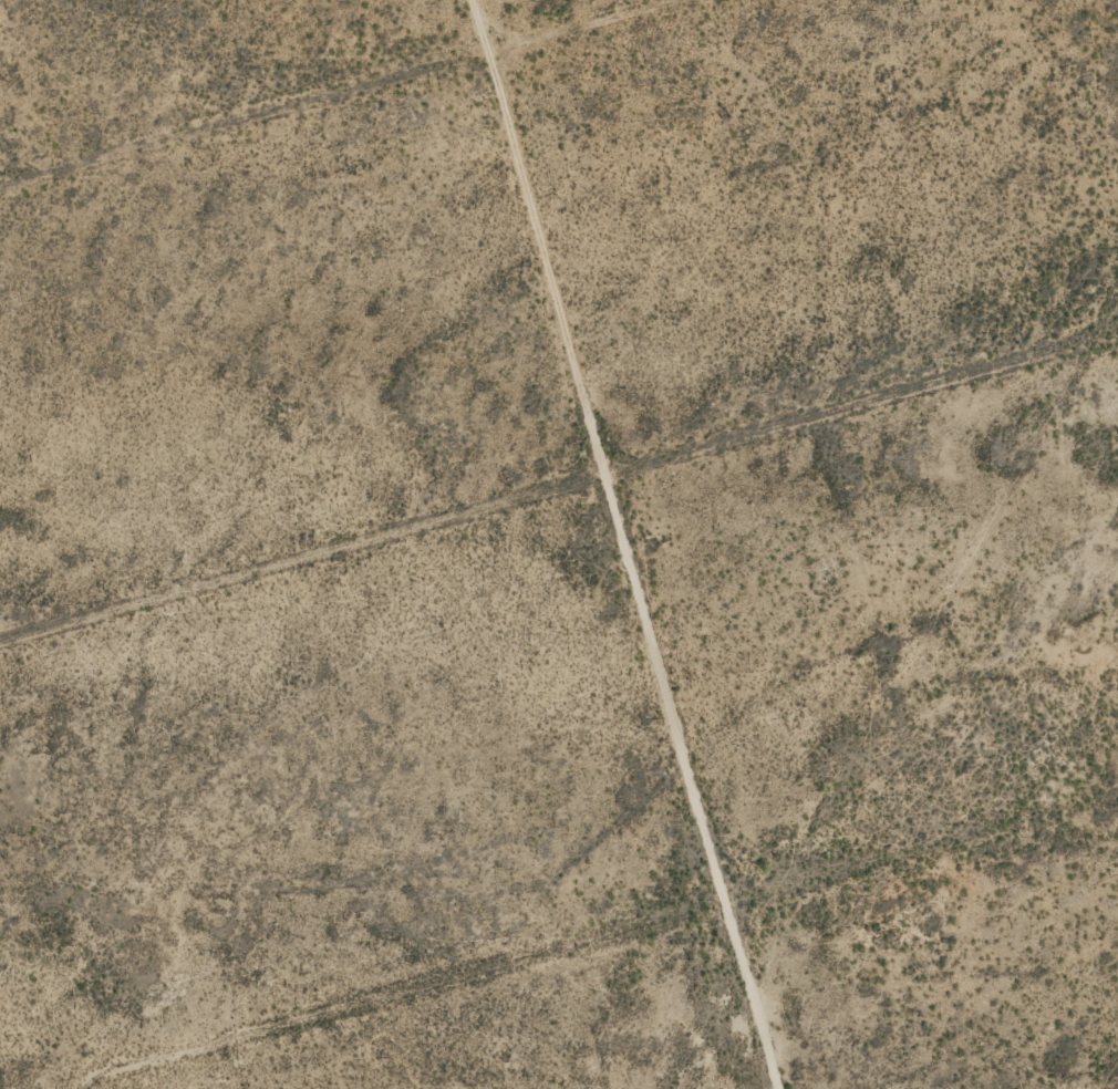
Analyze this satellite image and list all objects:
road: (840, 423)
road: (572, 542)
road: (400, 1004)

